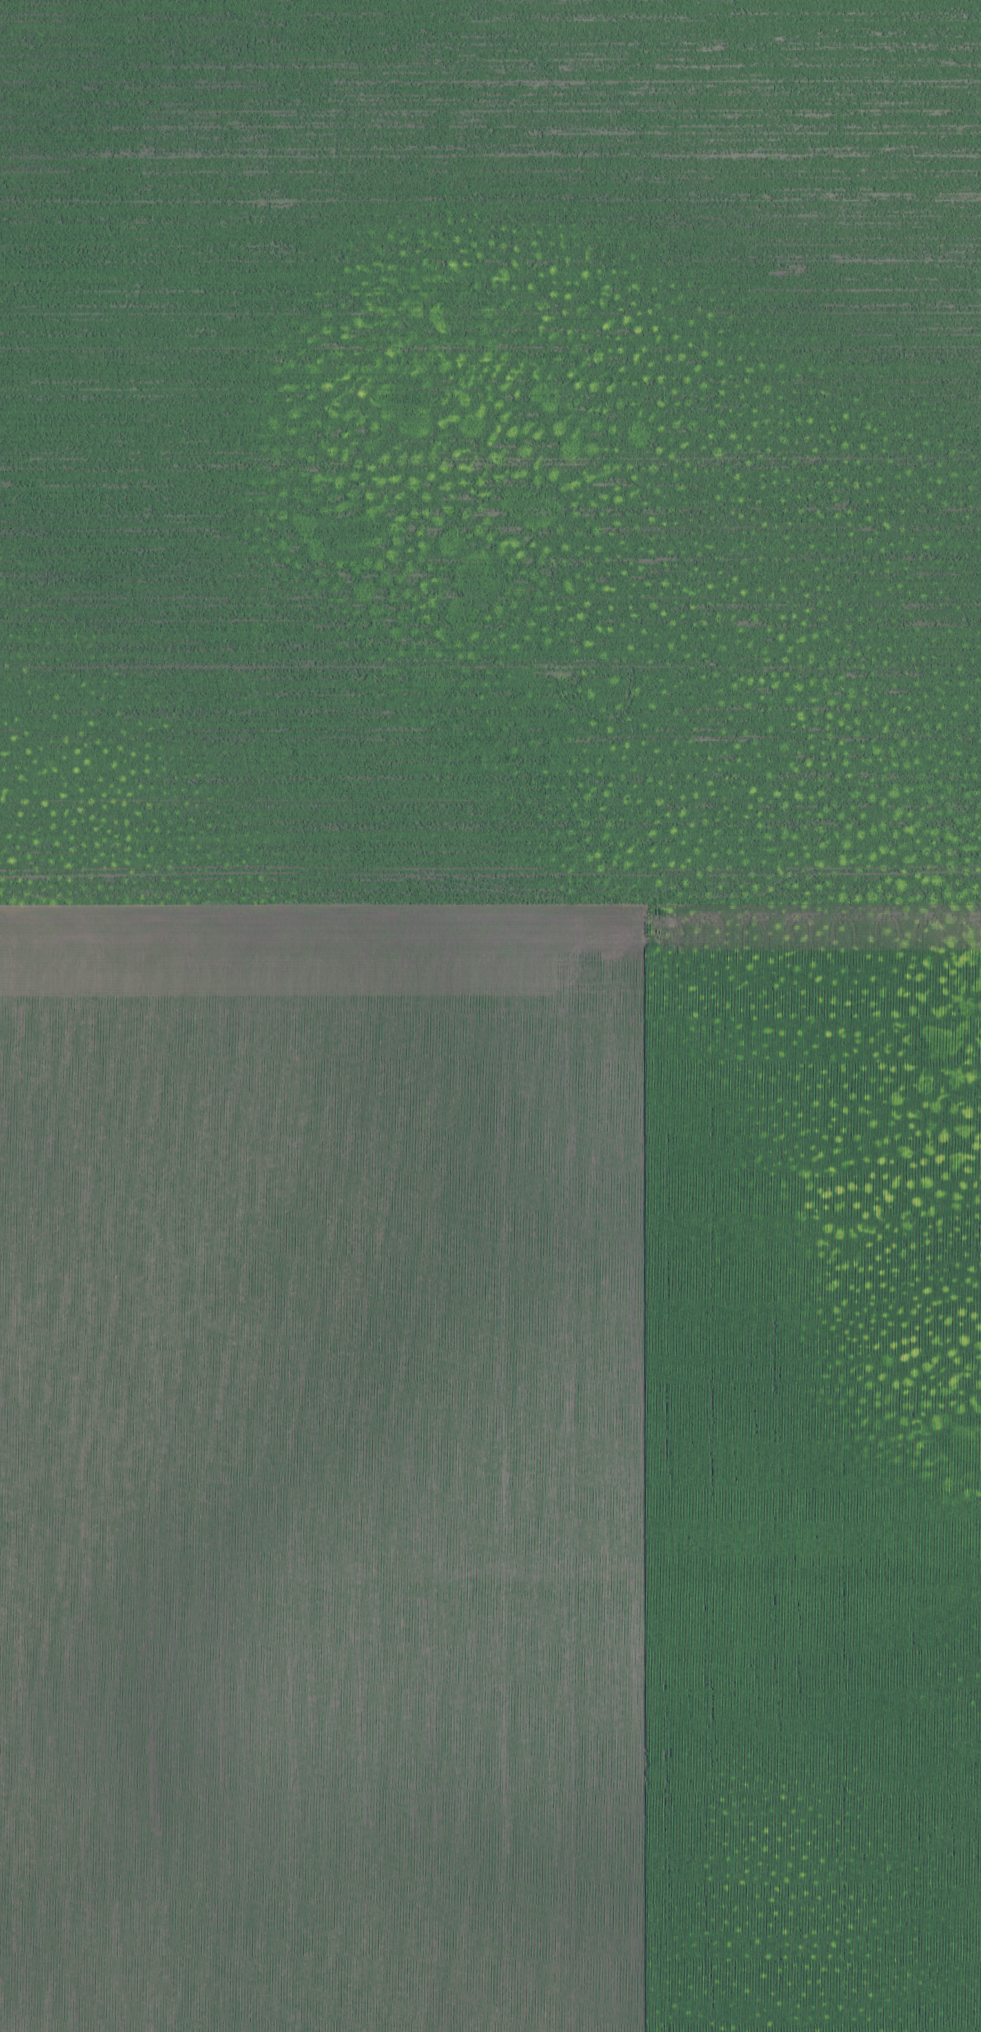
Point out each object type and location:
crop: (490, 1016)

